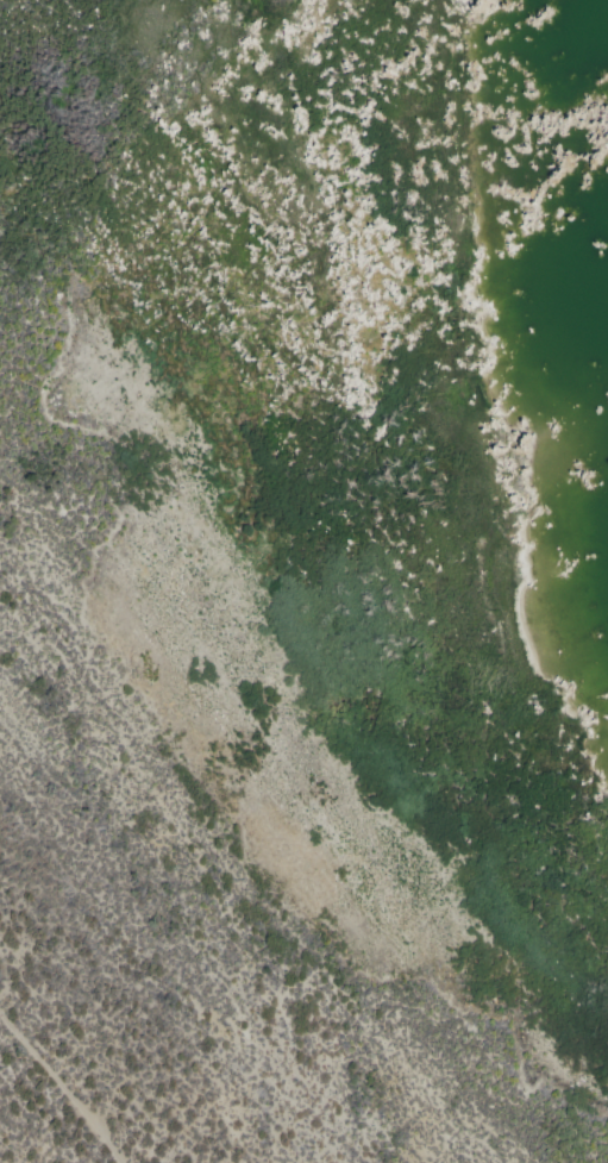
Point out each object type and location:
road: (57, 1090)

